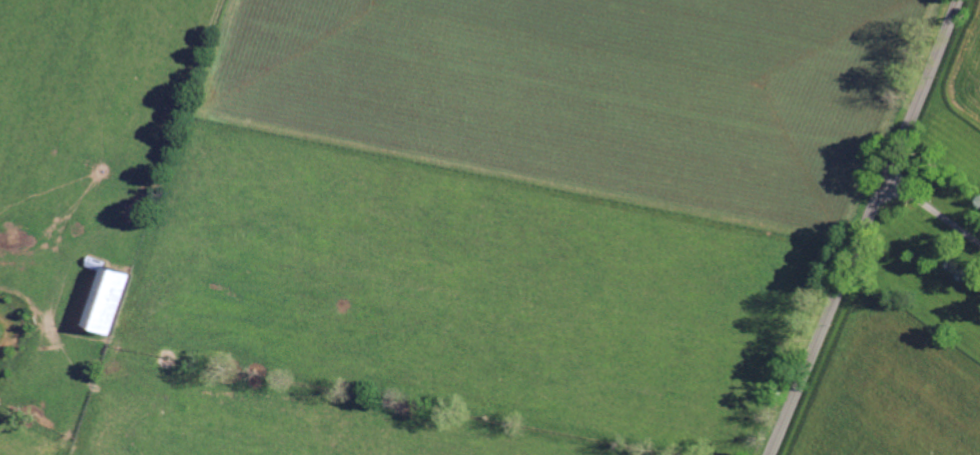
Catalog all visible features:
road: (933, 210)
road: (865, 227)

